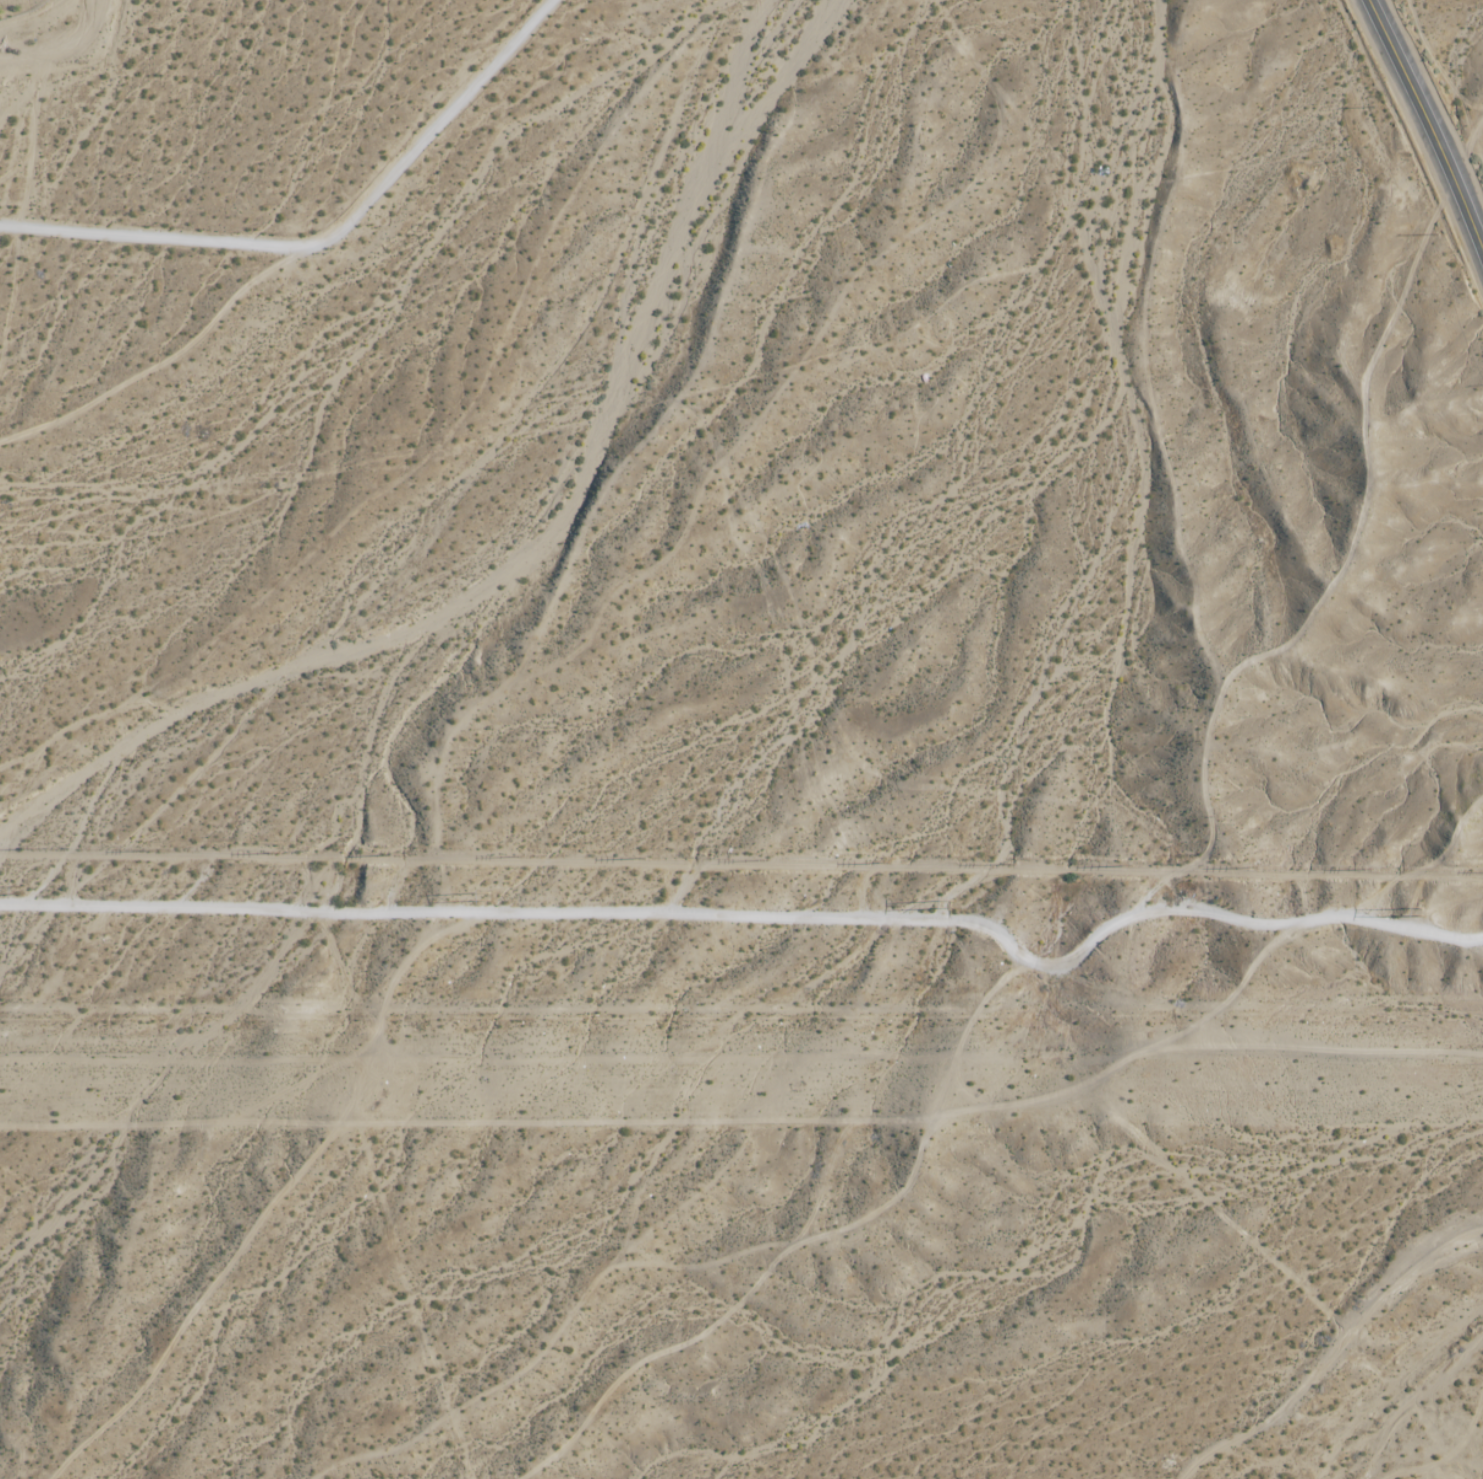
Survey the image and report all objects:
road: (1424, 129)
road: (326, 238)
power tower: (156, 847)
power tower: (30, 848)
power tower: (279, 850)
power tower: (646, 854)
power tower: (398, 855)
power tower: (523, 856)
power tower: (763, 858)
power tower: (890, 862)
power tower: (1011, 863)
power tower: (1129, 865)
power tower: (1255, 865)
power tower: (29, 888)
power tower: (492, 895)
power tower: (989, 908)
power tower: (1427, 908)
road: (741, 937)
road: (747, 1123)

